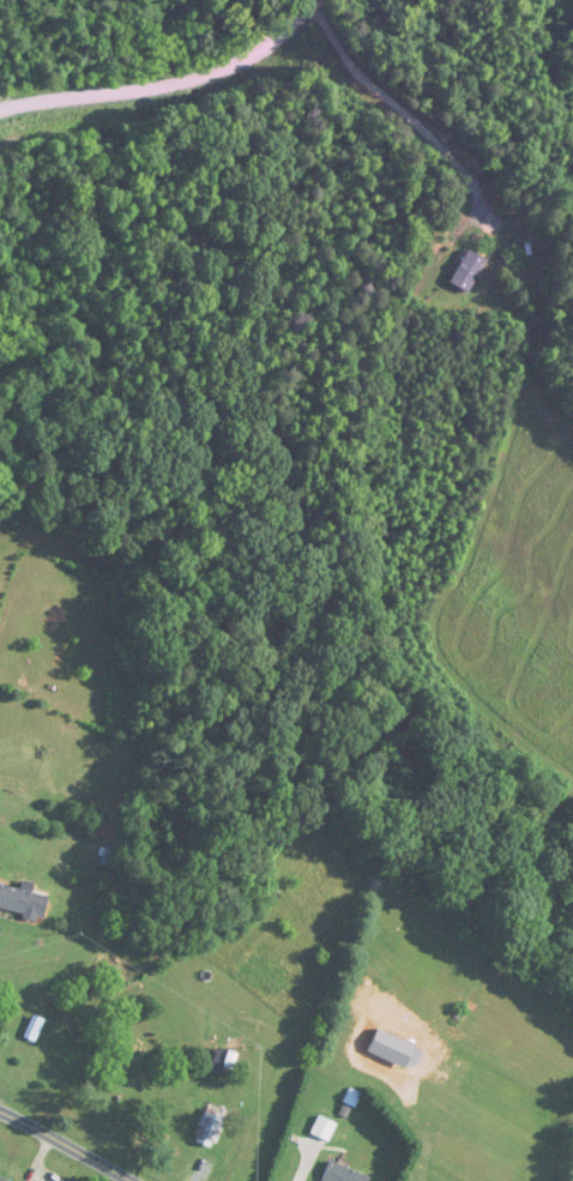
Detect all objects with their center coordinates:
road: (173, 90)
road: (405, 113)
building: (469, 271)
building: (110, 851)
building: (23, 902)
building: (38, 1036)
building: (210, 1127)
road: (67, 1144)
building: (343, 1174)
building: (2, 1179)

